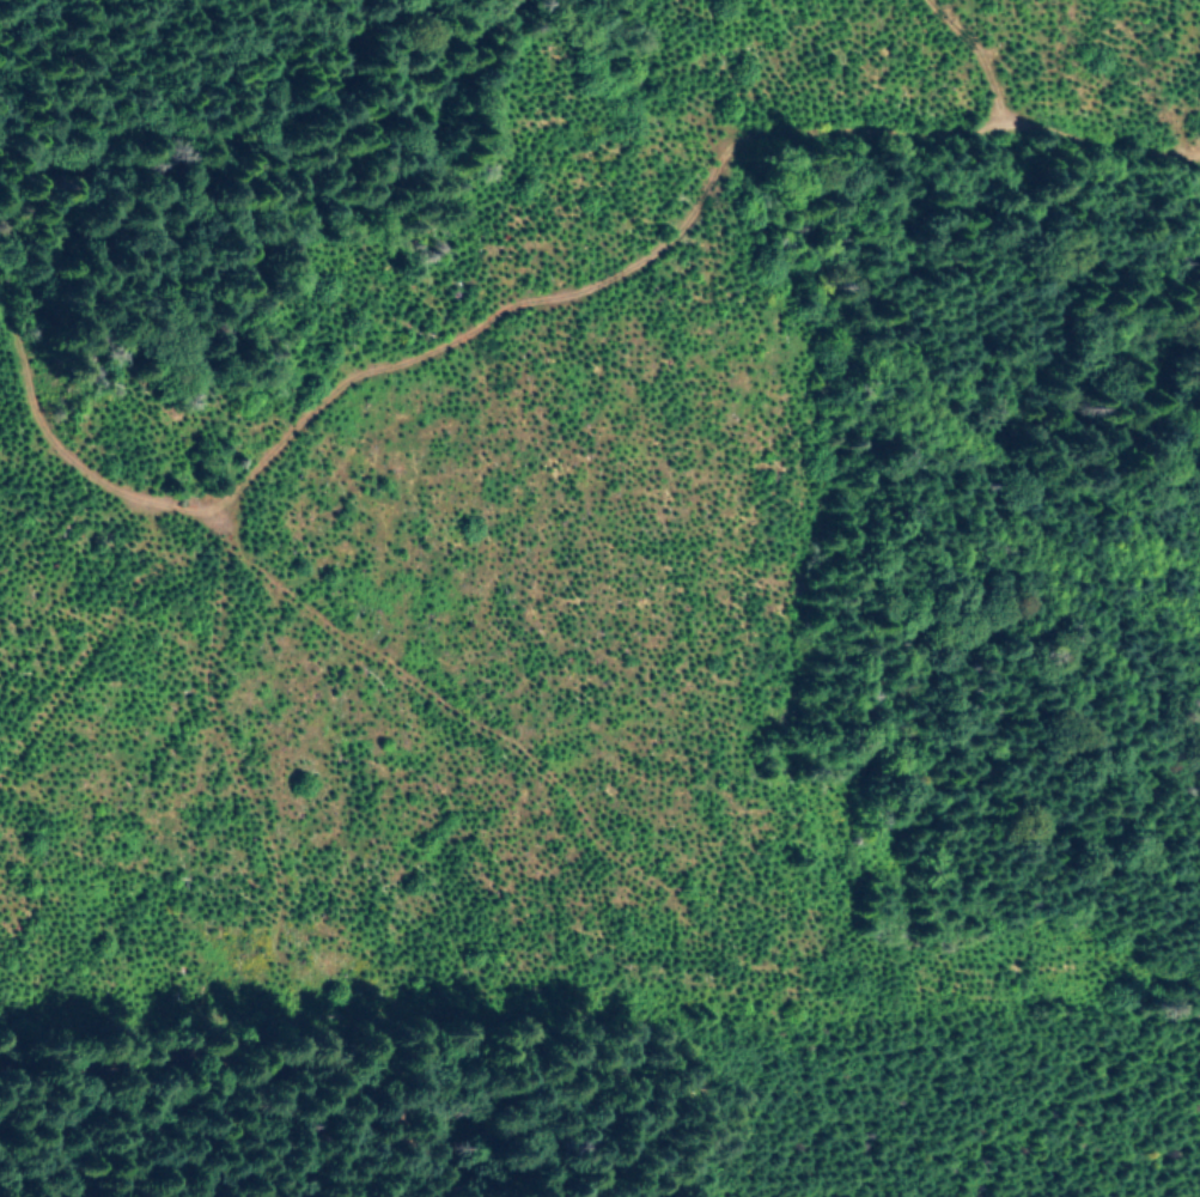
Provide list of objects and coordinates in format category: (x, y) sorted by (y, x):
road: (854, 146)
road: (67, 474)
road: (218, 598)
road: (915, 851)
road: (205, 1073)

